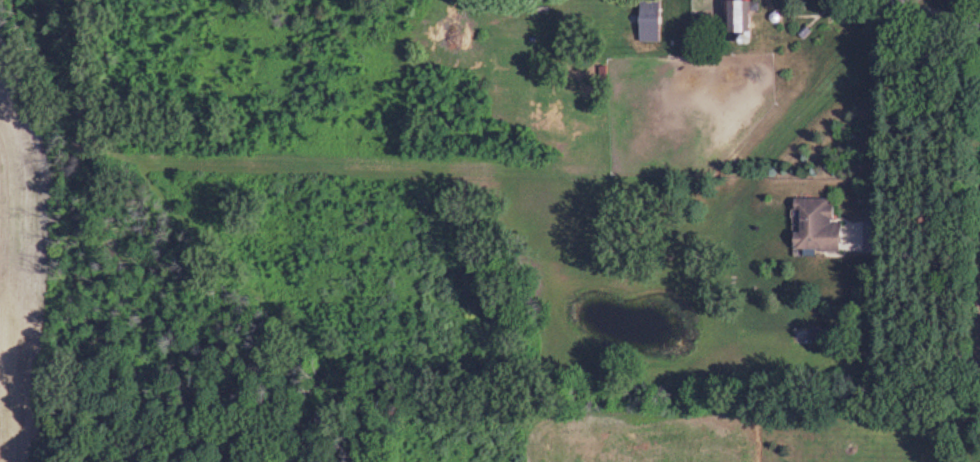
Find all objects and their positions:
building: (905, 0)
building: (732, 15)
building: (647, 20)
building: (812, 225)

